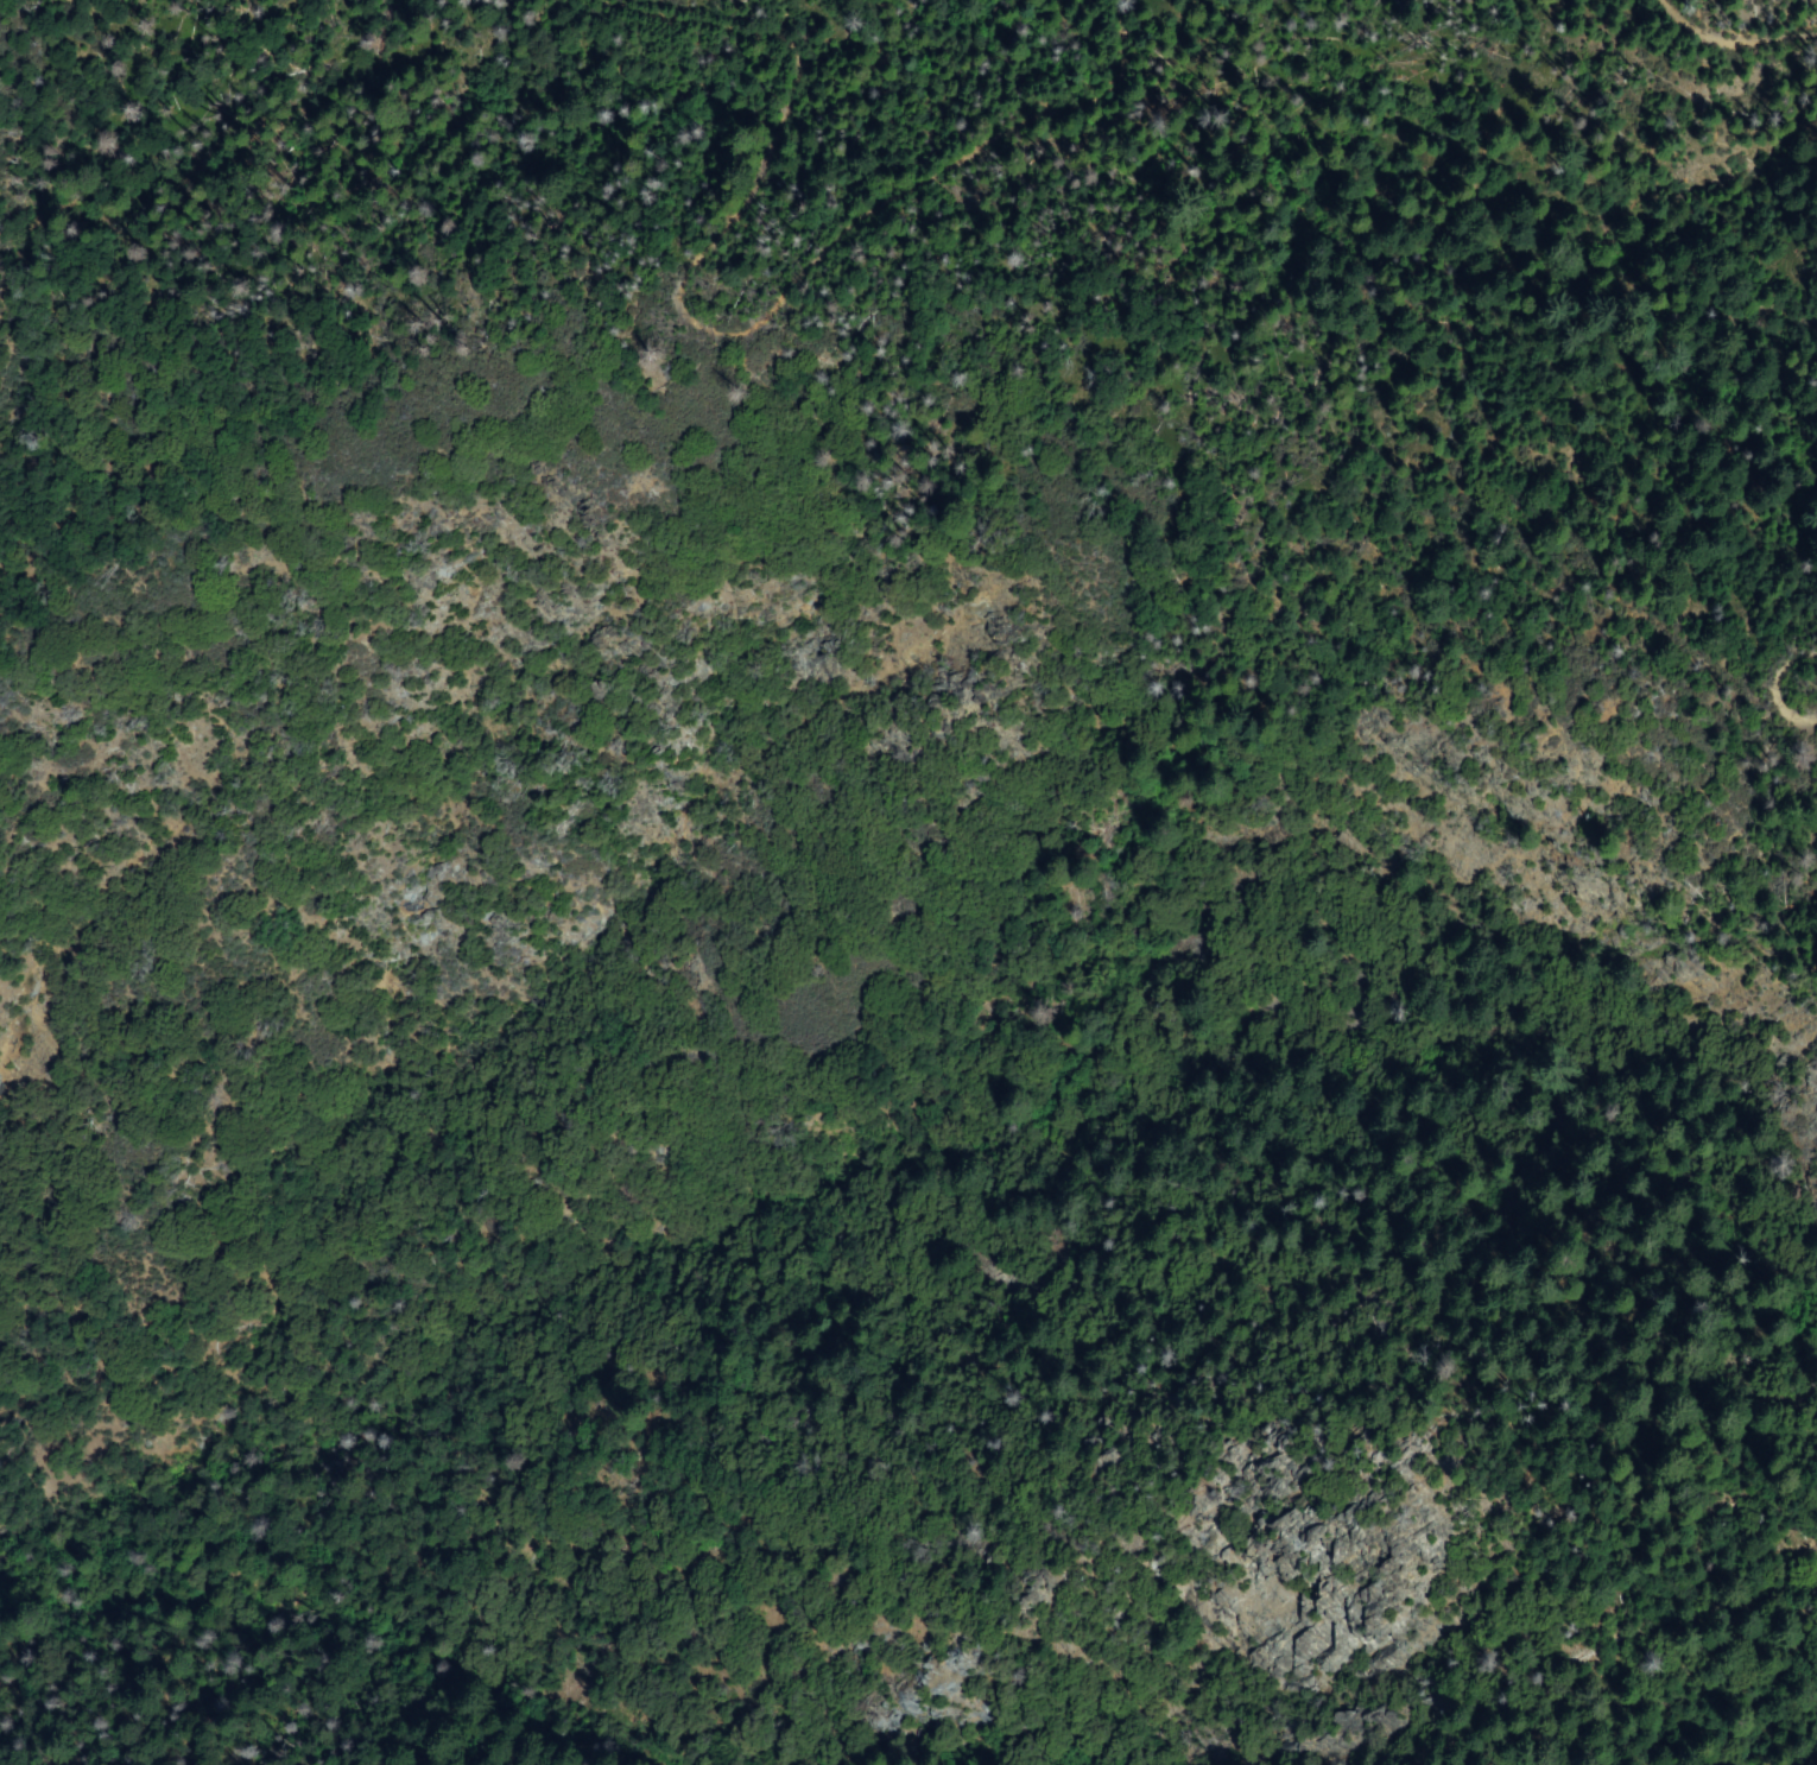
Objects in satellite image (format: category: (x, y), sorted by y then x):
road: (1736, 33)
road: (1769, 687)

